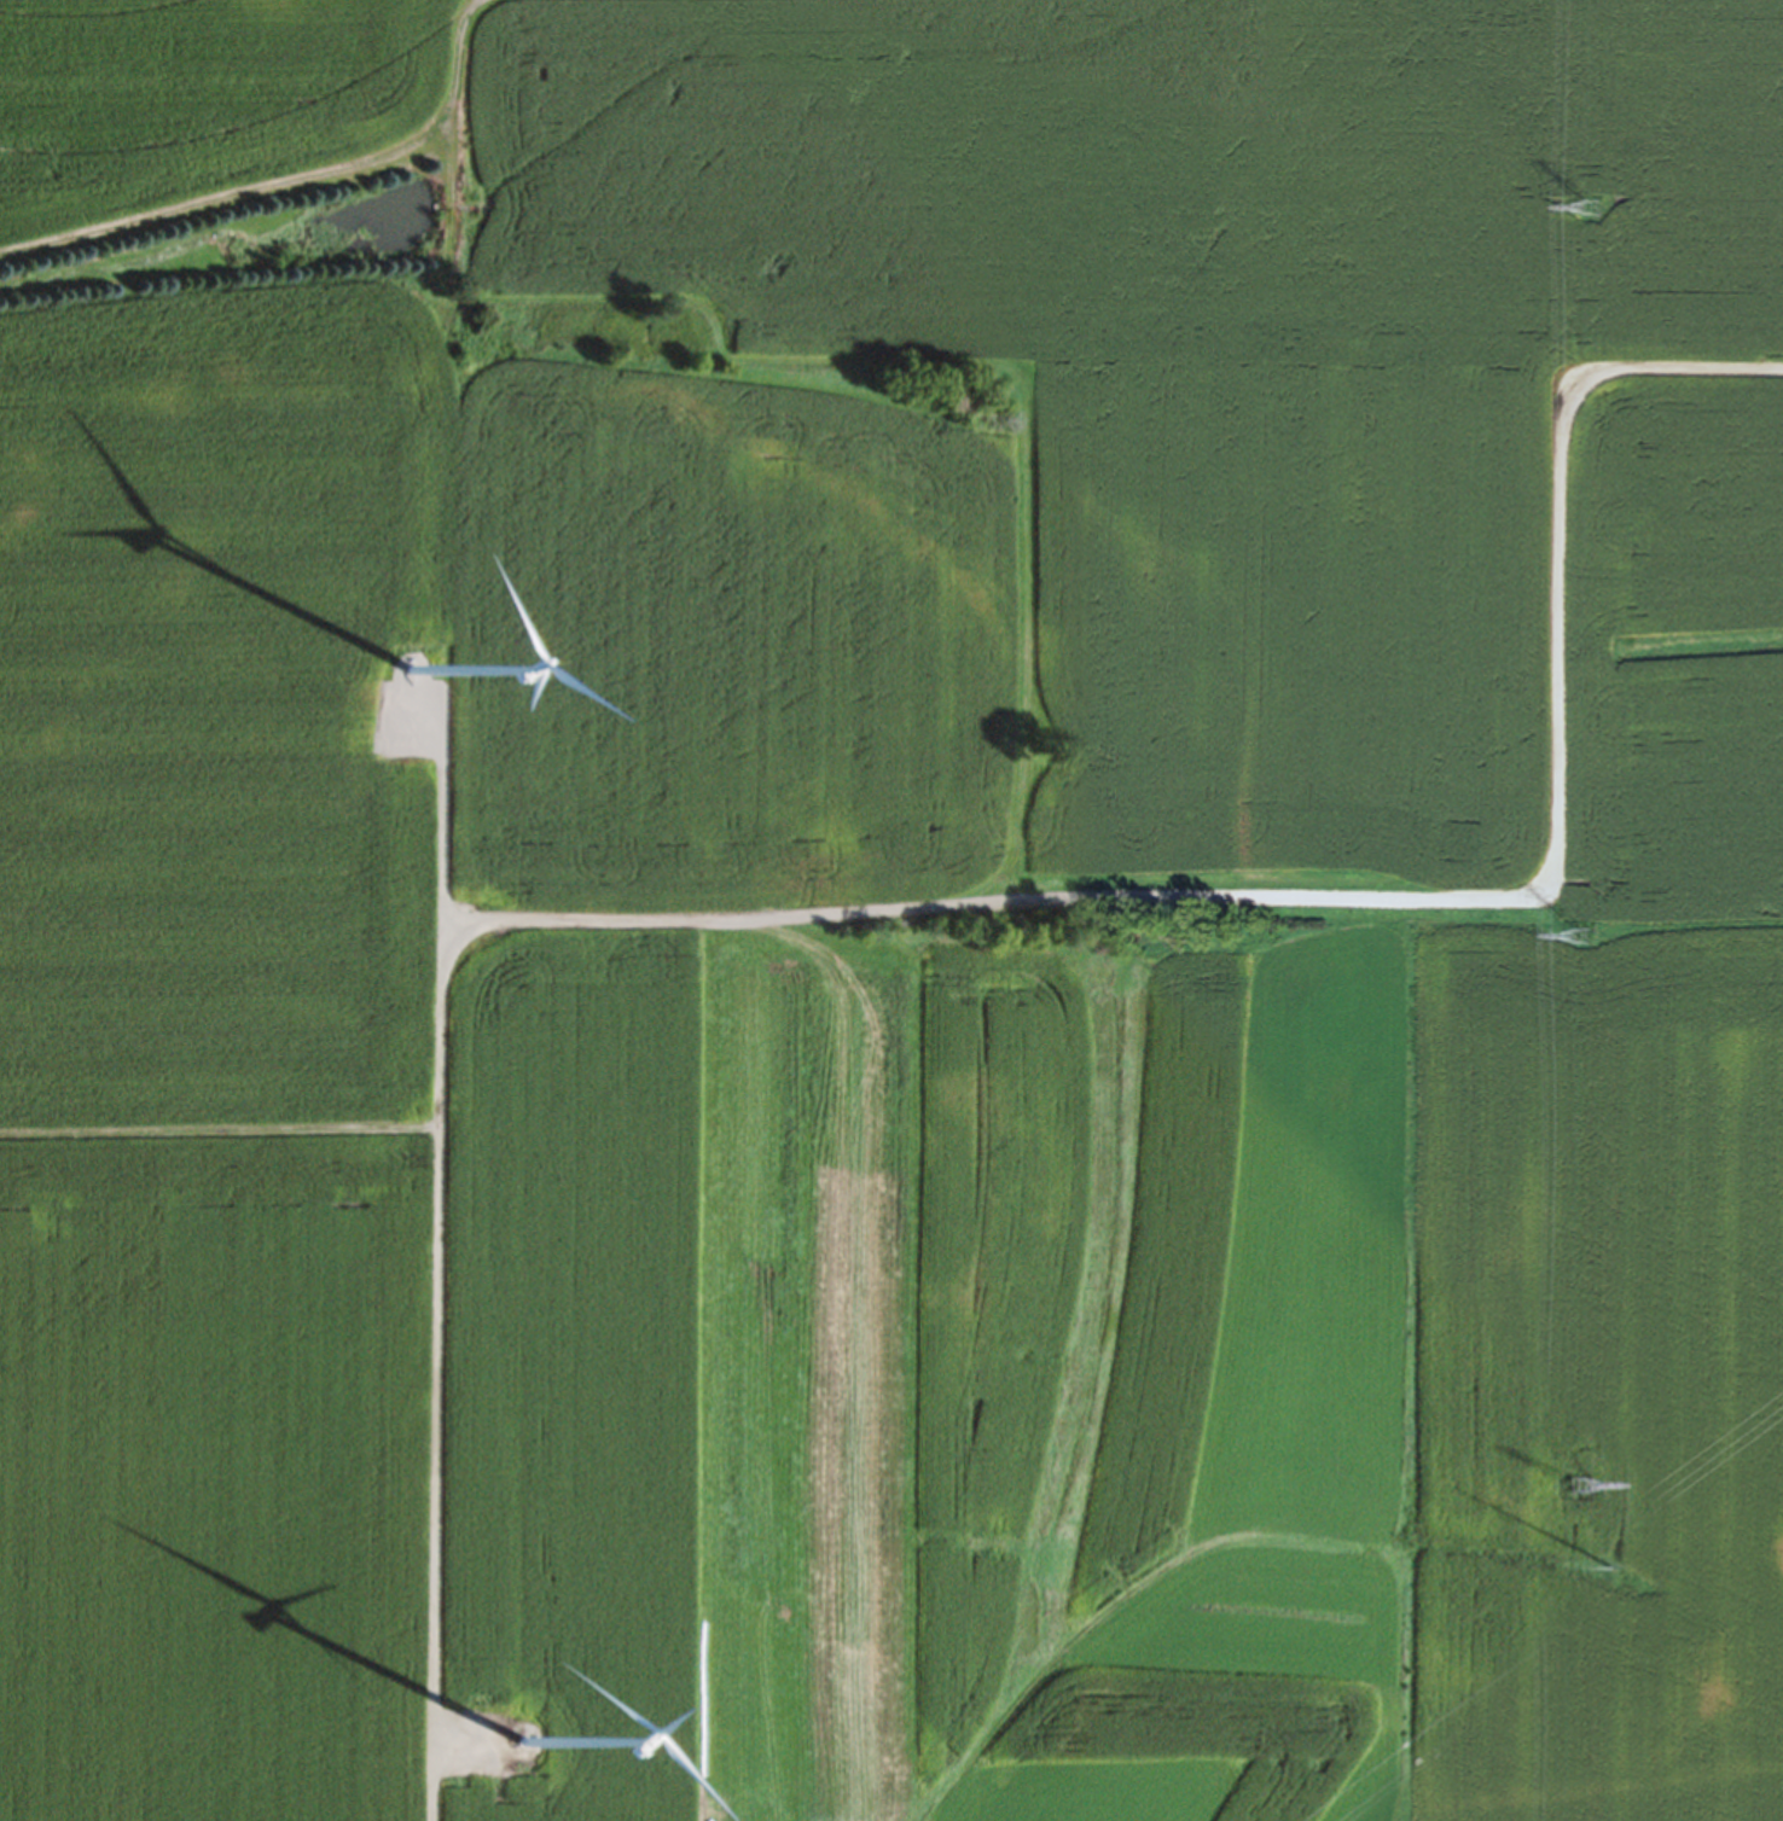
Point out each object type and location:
power tower: (1587, 211)
wind turbine: (407, 676)
road: (1354, 907)
power tower: (1569, 941)
road: (217, 1135)
road: (434, 1257)
power tower: (1562, 1493)
power tower: (1605, 1573)
wind turbine: (513, 1749)

